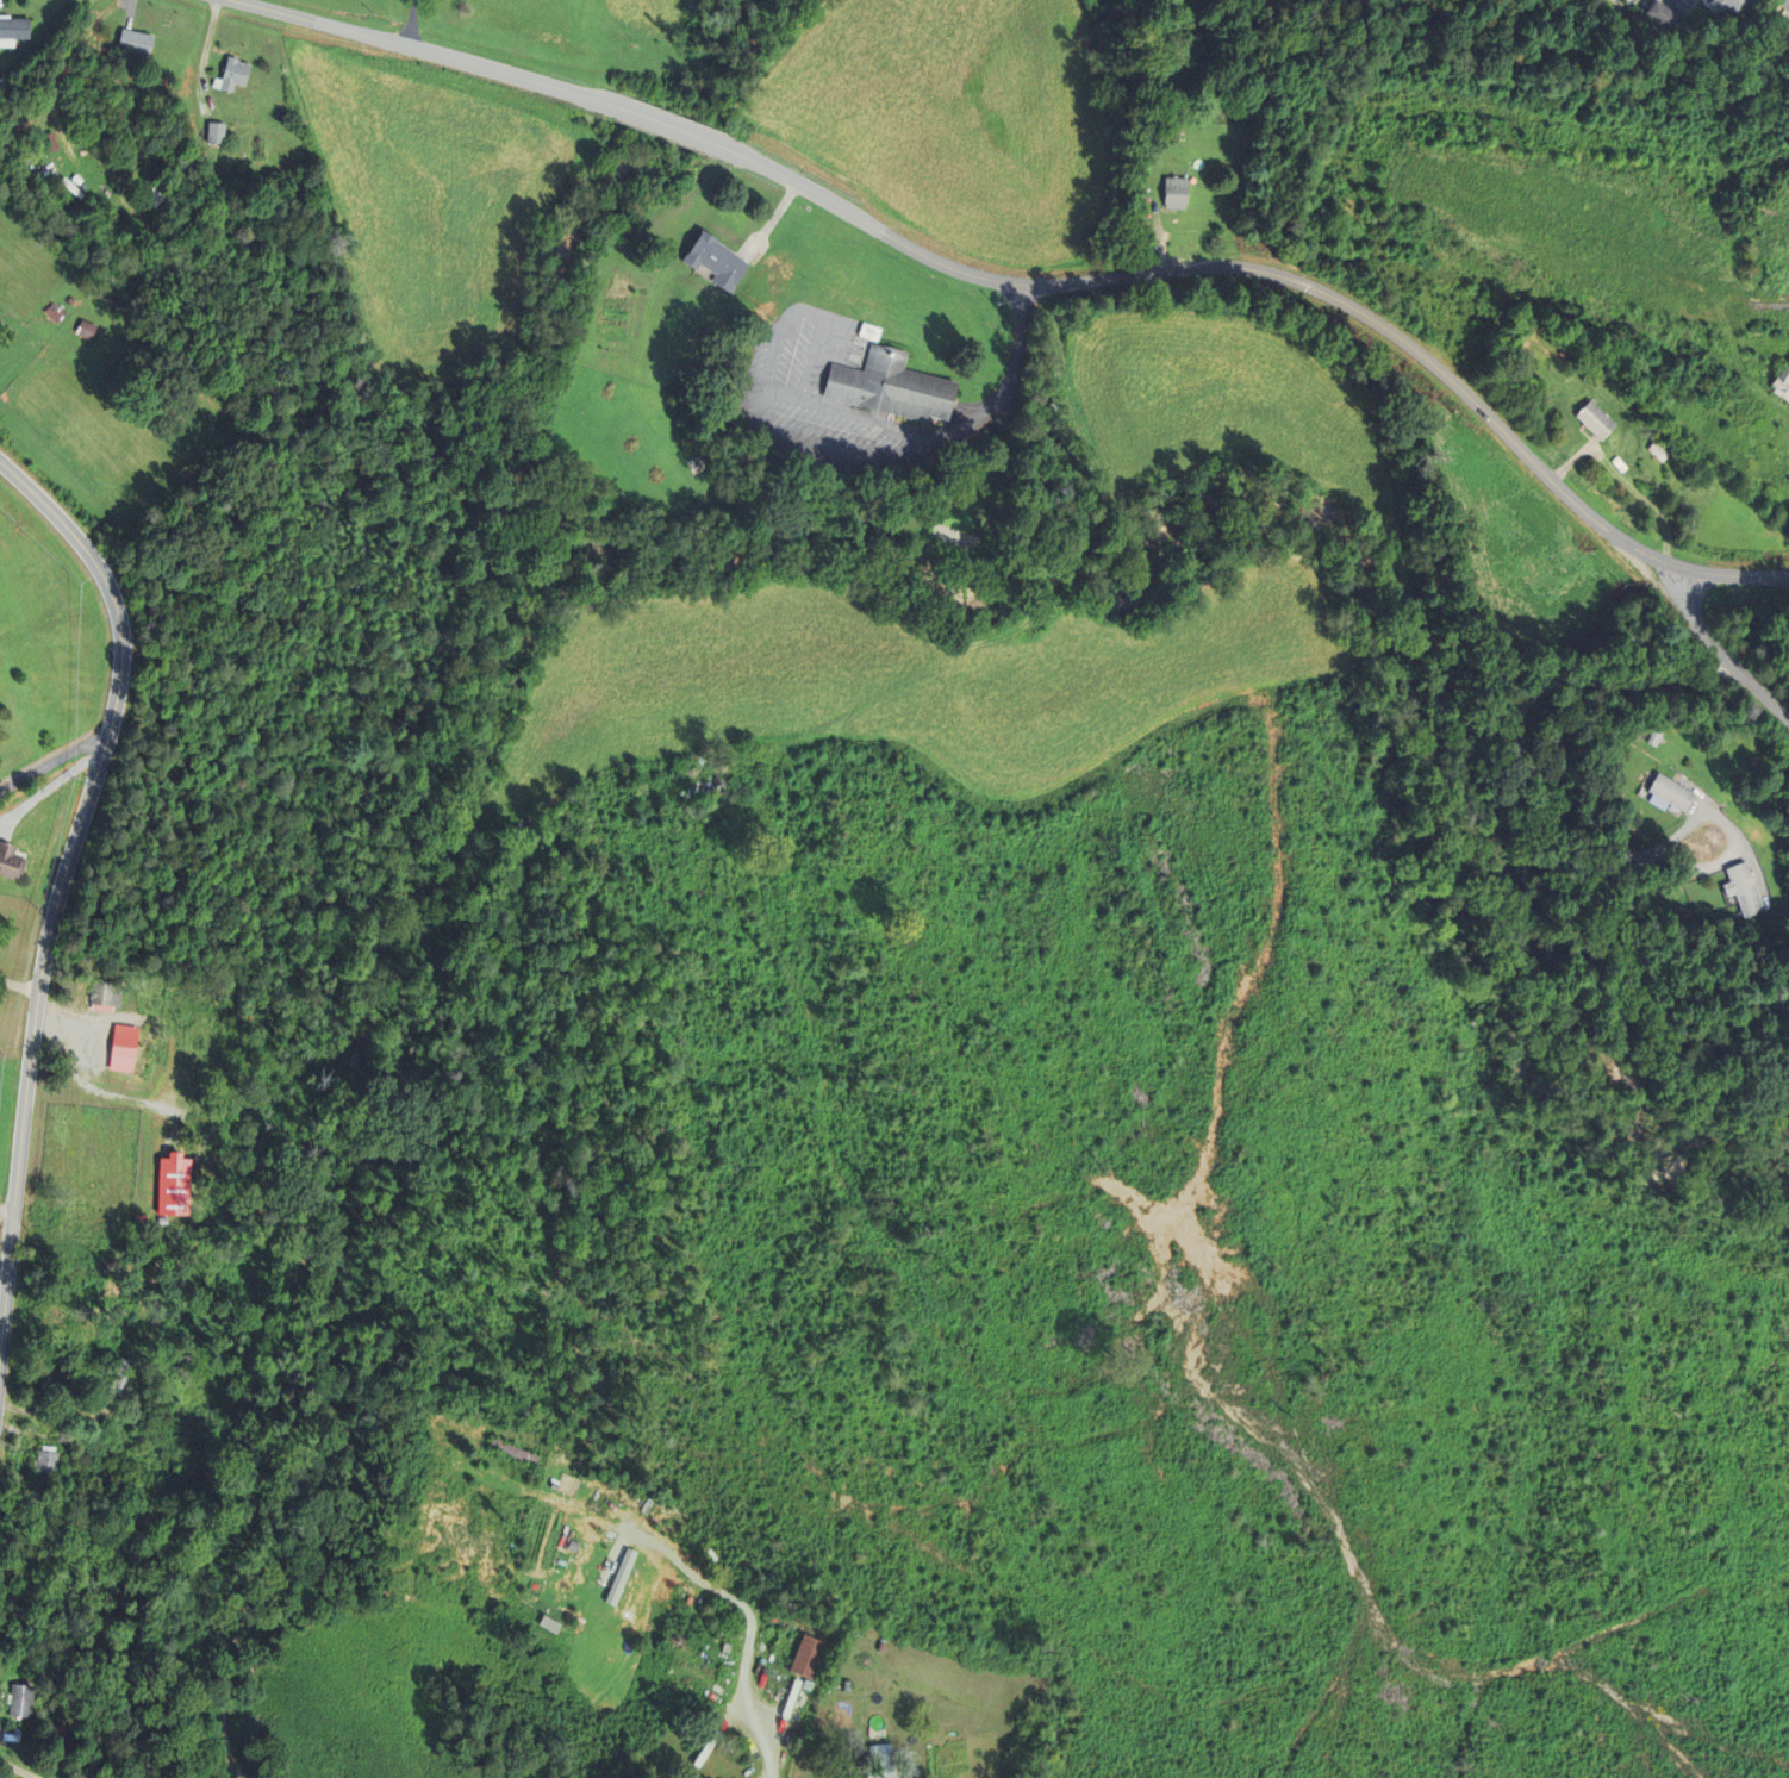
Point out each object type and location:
building: (1734, 6)
crop: (652, 12)
building: (1664, 15)
road: (410, 23)
building: (13, 30)
building: (138, 40)
road: (423, 50)
building: (235, 74)
crop: (955, 117)
road: (671, 126)
building: (202, 129)
building: (218, 132)
building: (44, 142)
building: (1176, 192)
crop: (428, 213)
building: (715, 260)
road: (1240, 268)
crop: (1450, 301)
building: (56, 312)
building: (87, 329)
road: (1020, 344)
parking lot: (784, 382)
building: (1782, 382)
building: (890, 386)
road: (763, 393)
road: (784, 394)
road: (865, 417)
crop: (1233, 417)
building: (1595, 419)
road: (962, 423)
building: (1657, 451)
building: (1617, 463)
building: (956, 554)
road: (1735, 575)
road: (1719, 654)
building: (1654, 737)
road: (1516, 738)
road: (50, 763)
building: (703, 785)
road: (2, 787)
building: (1669, 794)
building: (12, 860)
road: (61, 882)
building: (1743, 890)
building: (108, 993)
road: (6, 1214)
building: (125, 1377)
building: (511, 1451)
building: (49, 1462)
building: (586, 1485)
building: (145, 1541)
building: (711, 1555)
building: (740, 1566)
building: (618, 1577)
building: (531, 1584)
road: (752, 1630)
building: (805, 1657)
building: (846, 1686)
building: (23, 1702)
building: (12, 1735)
building: (879, 1761)
road: (18, 1768)
building: (912, 1774)
building: (704, 1777)

